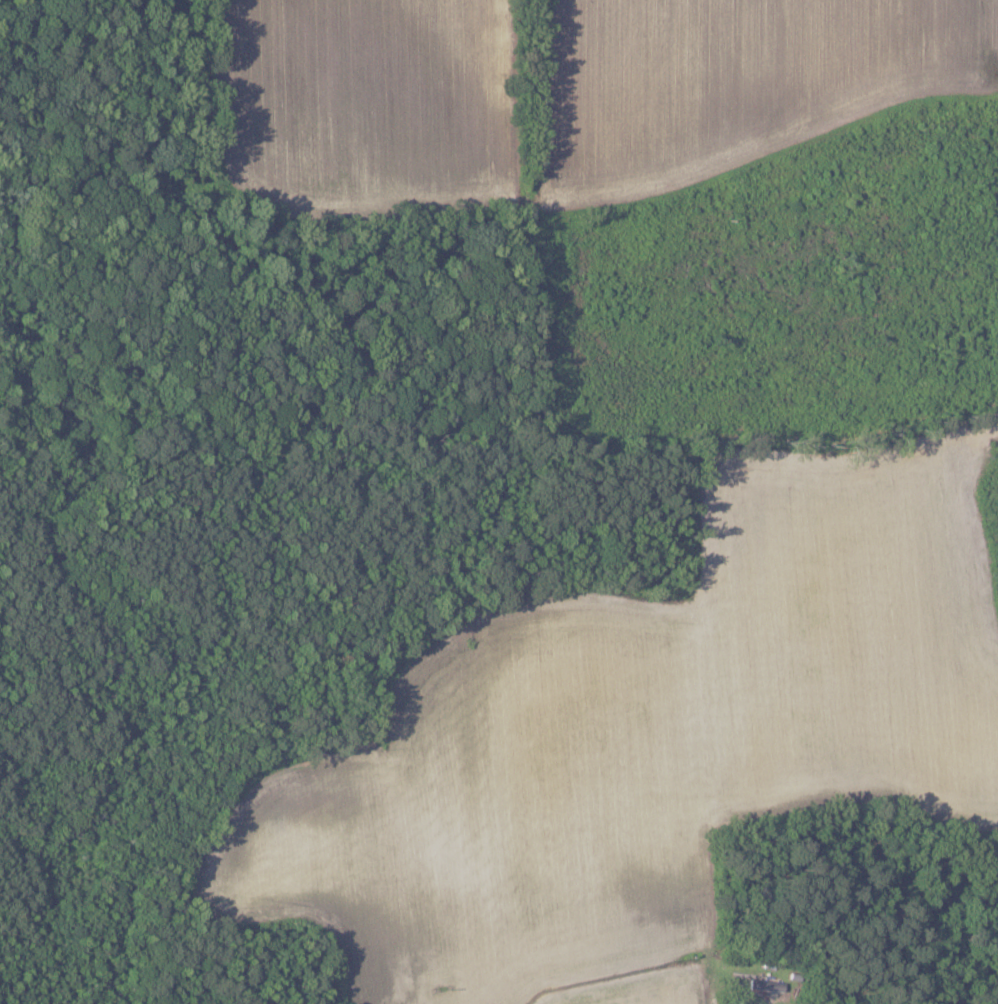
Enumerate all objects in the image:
building: (765, 984)

